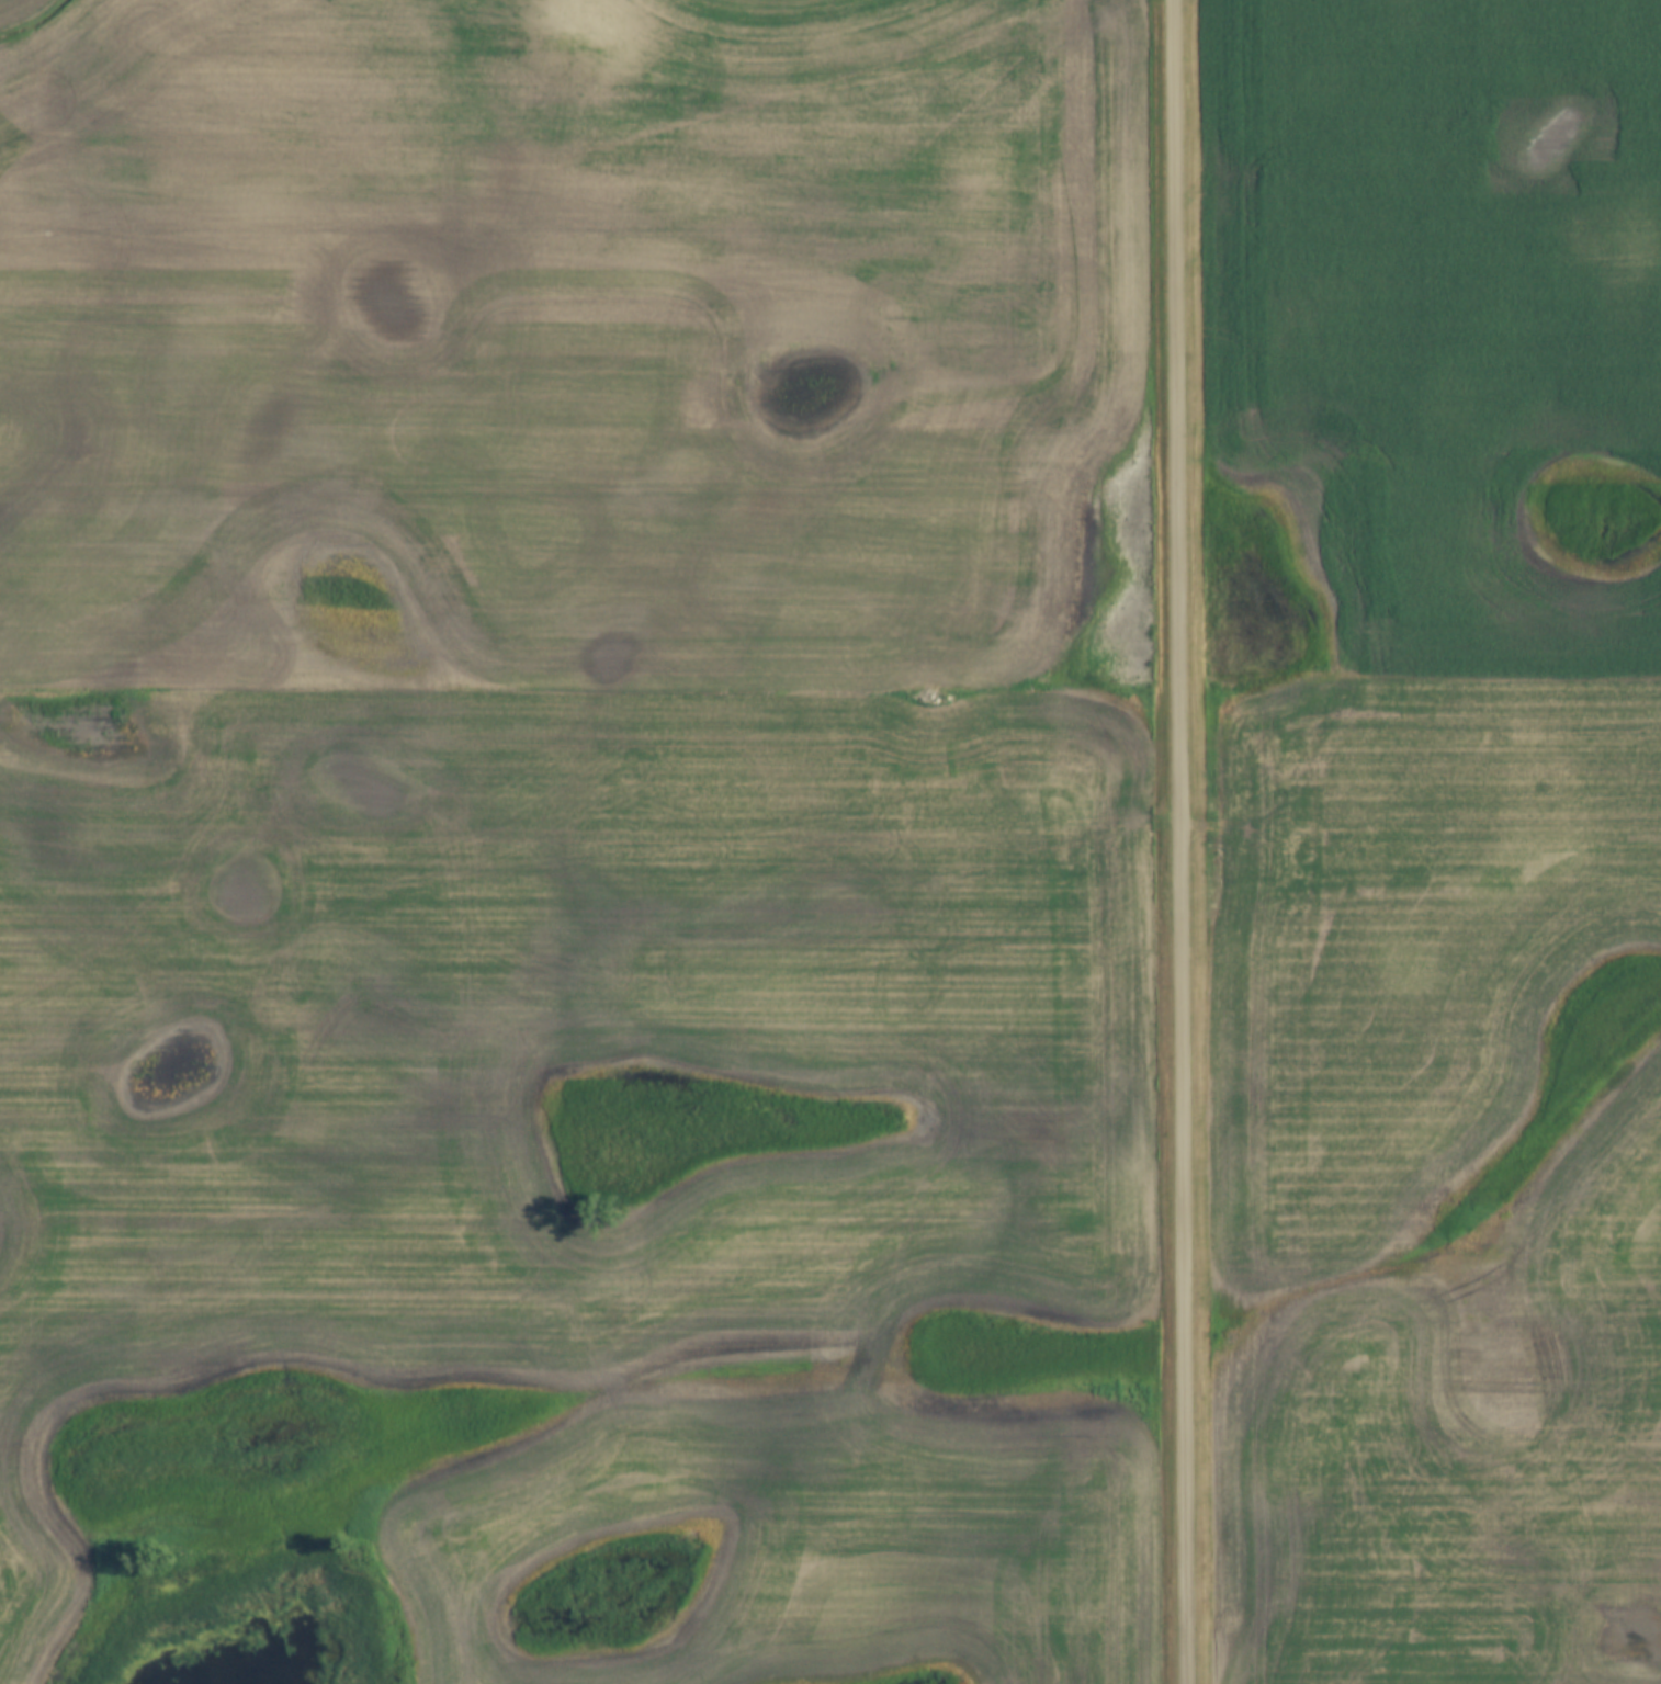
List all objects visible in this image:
road: (1185, 841)

